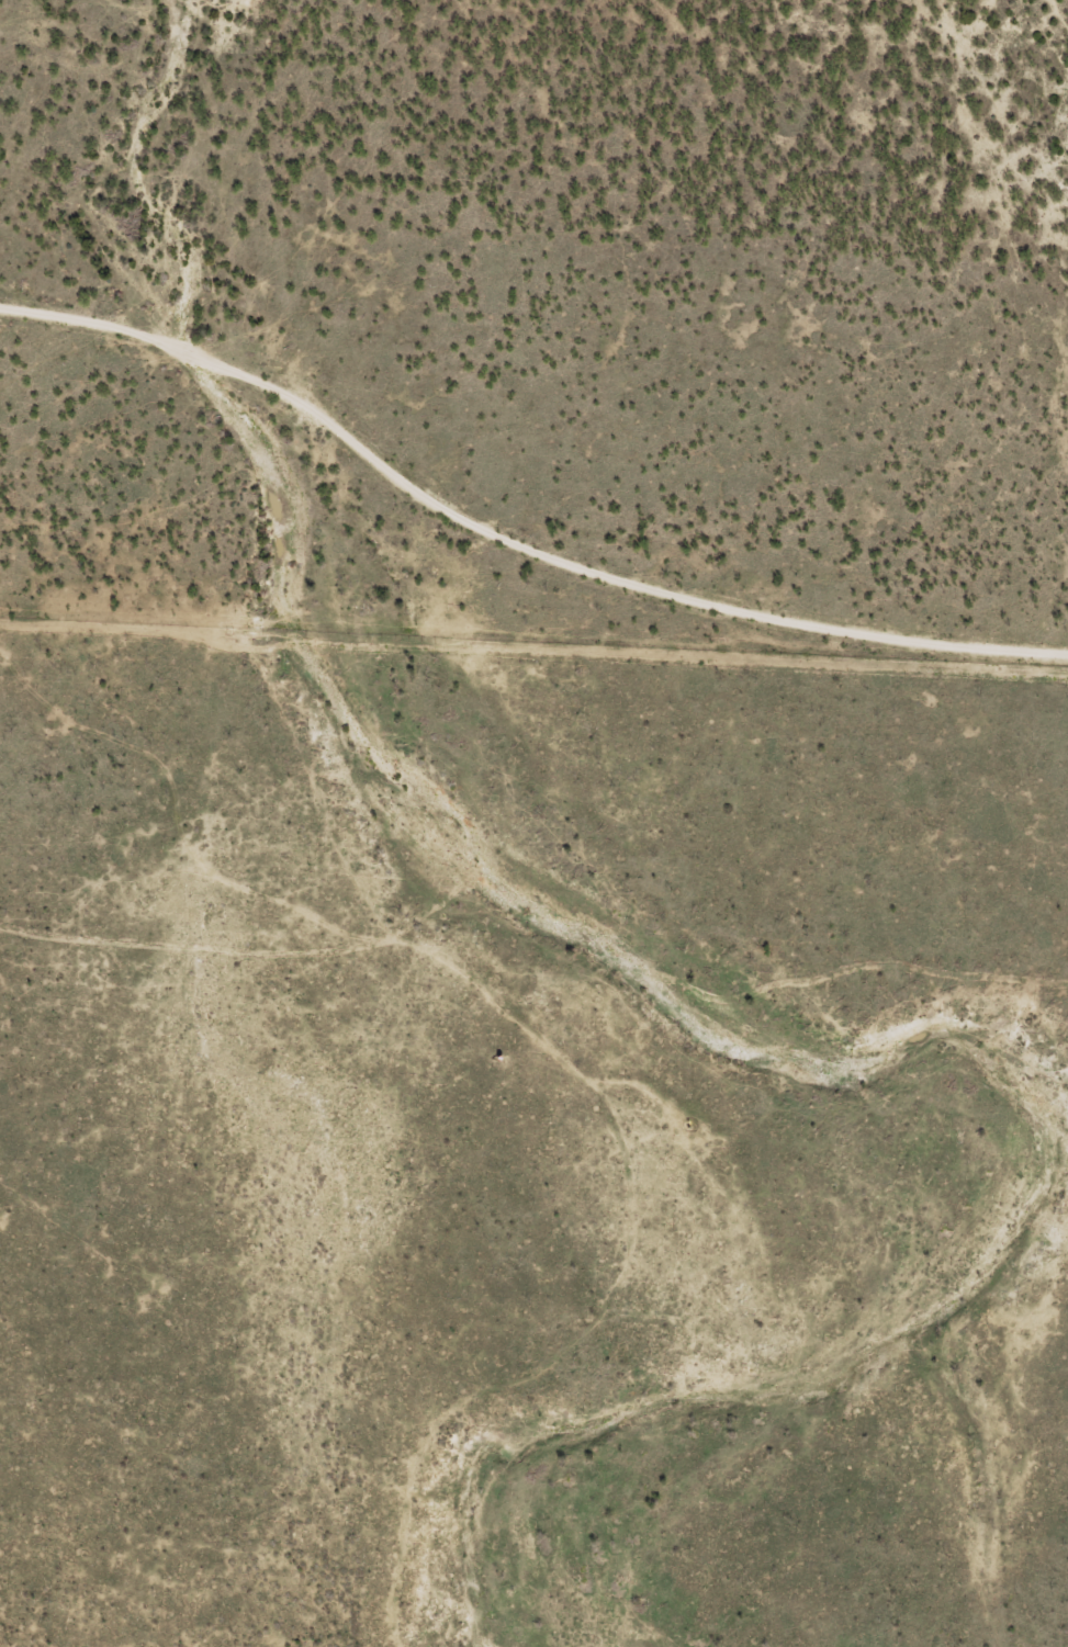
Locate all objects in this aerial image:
road: (488, 562)

